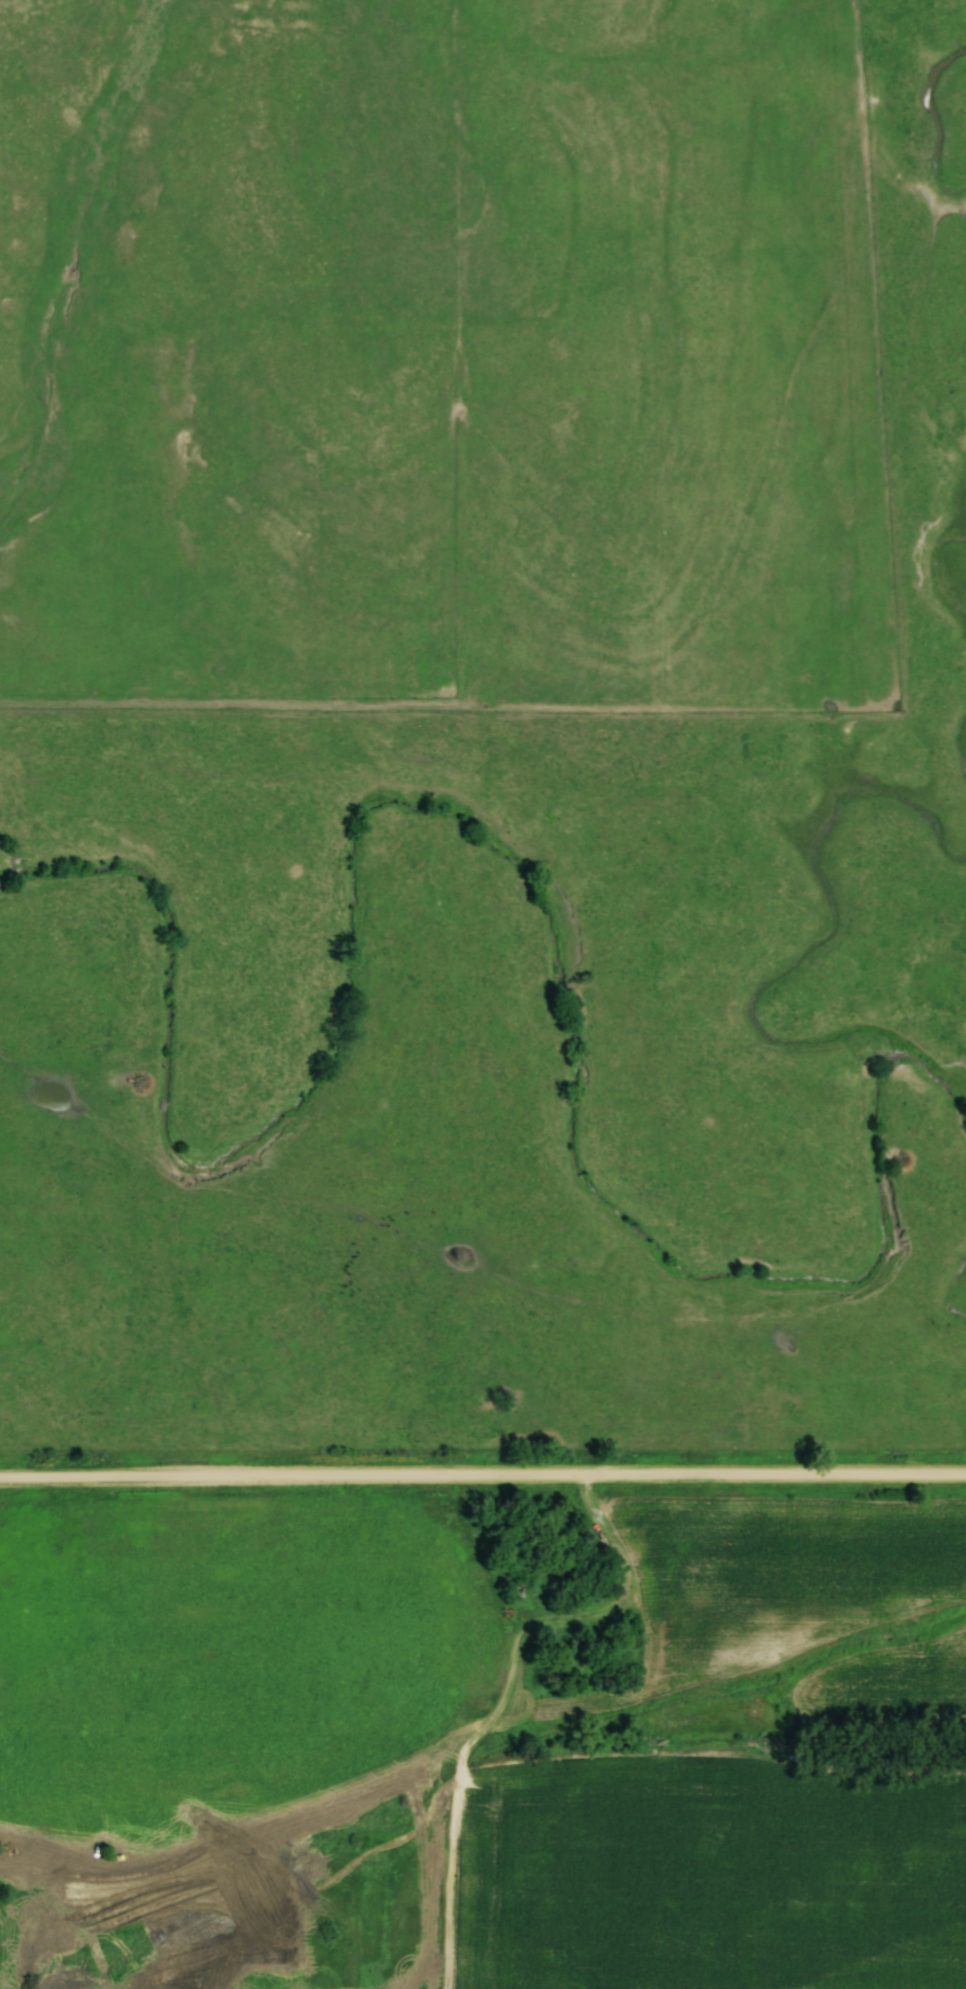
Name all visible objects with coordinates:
road: (483, 1476)

